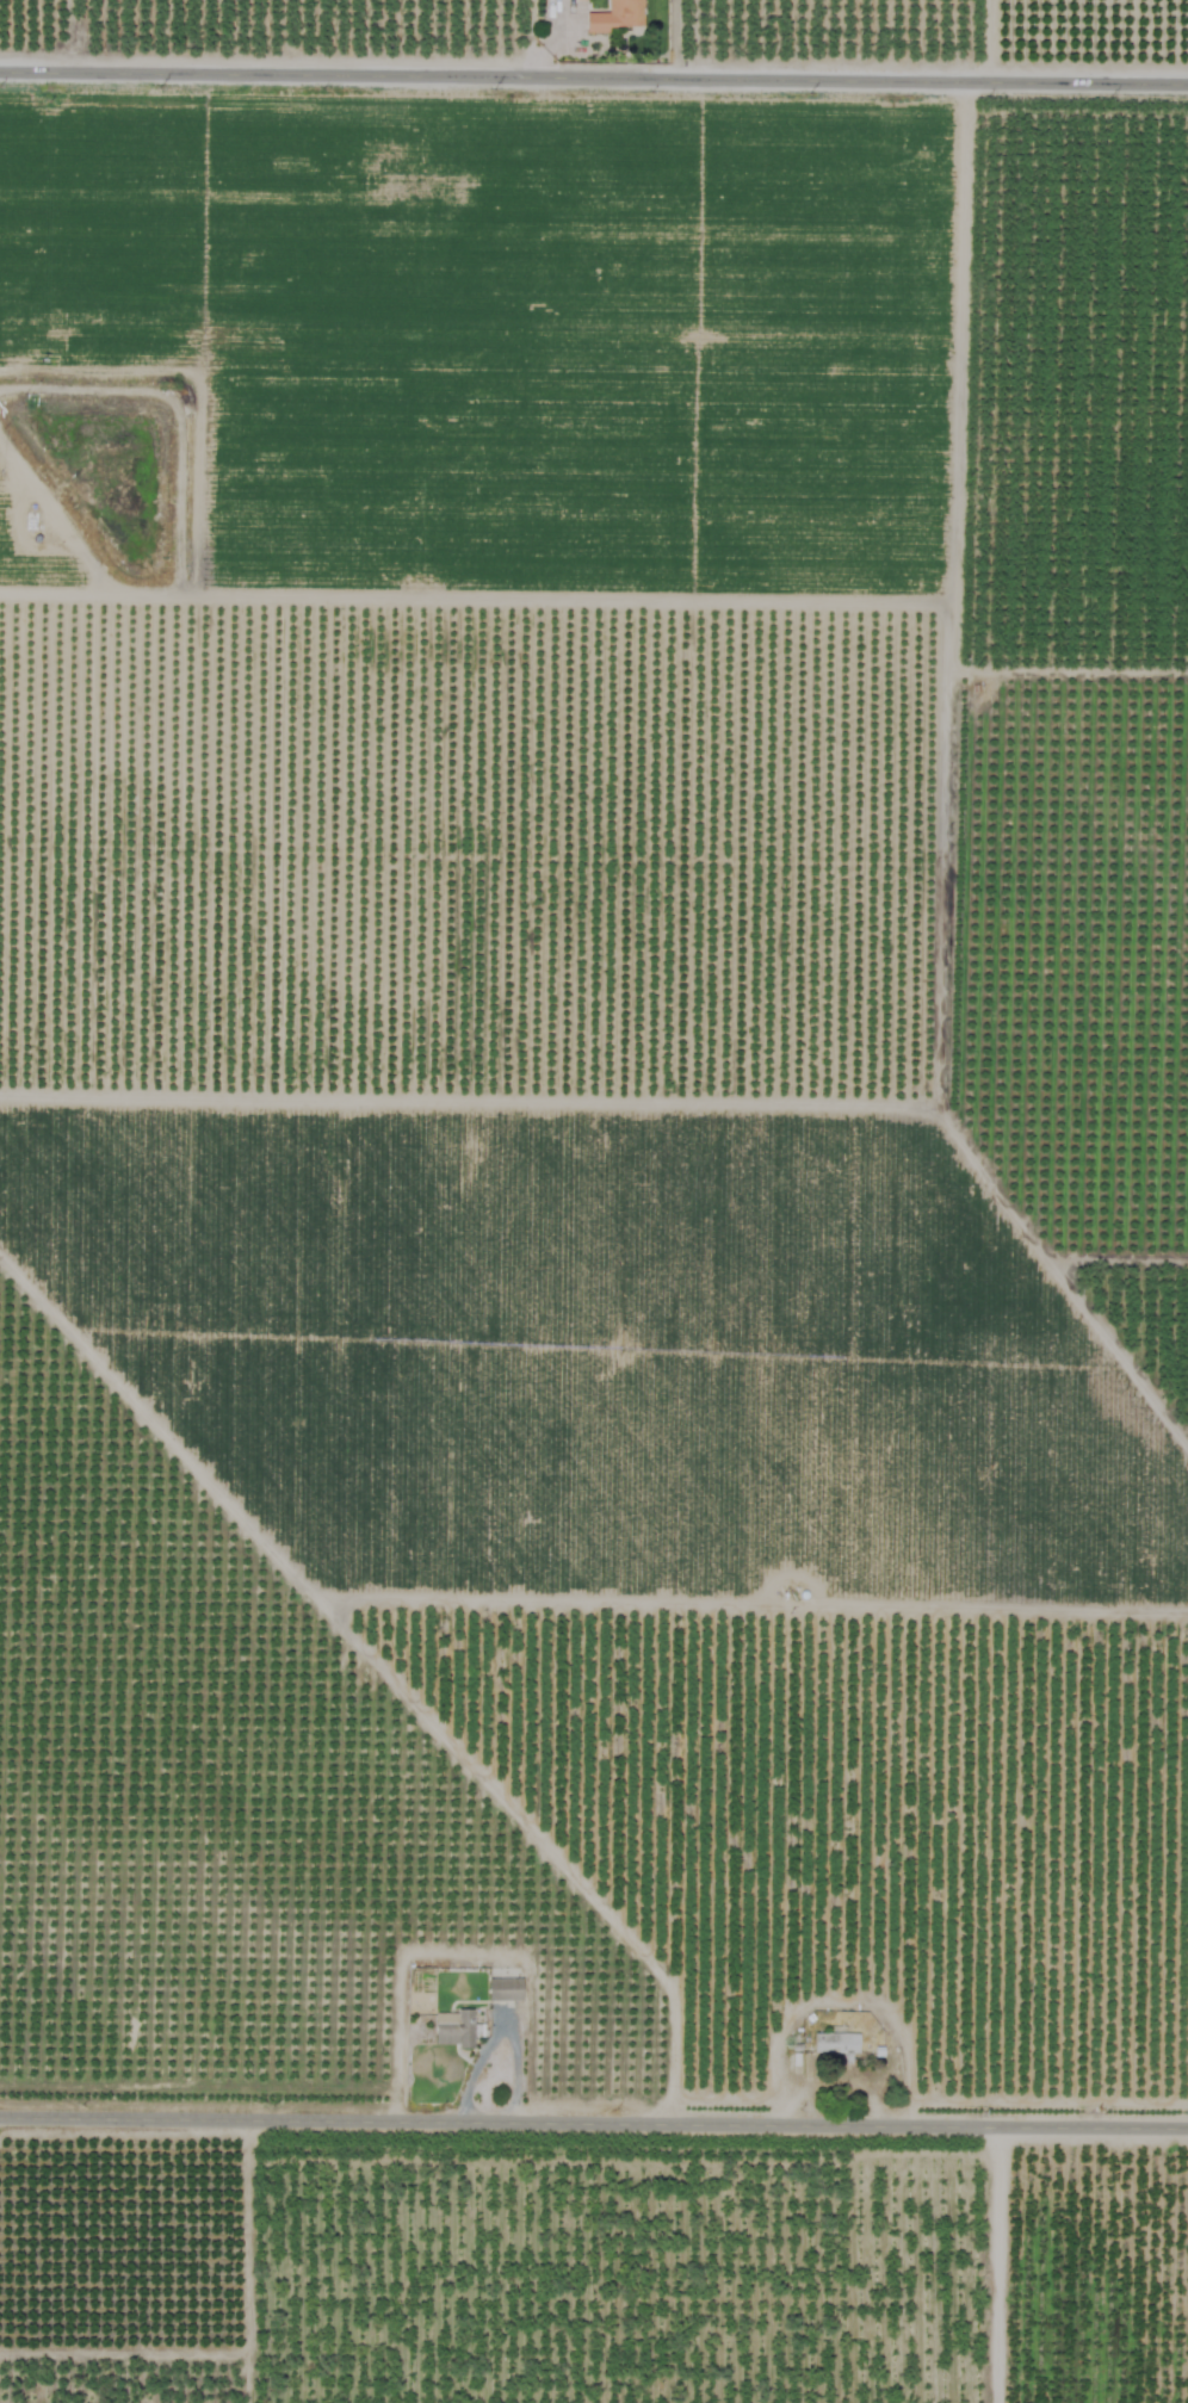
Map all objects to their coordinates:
building: (614, 16)
road: (594, 74)
crop: (594, 1201)
building: (503, 1989)
building: (453, 2027)
building: (835, 2042)
road: (594, 2117)
road: (996, 2261)

